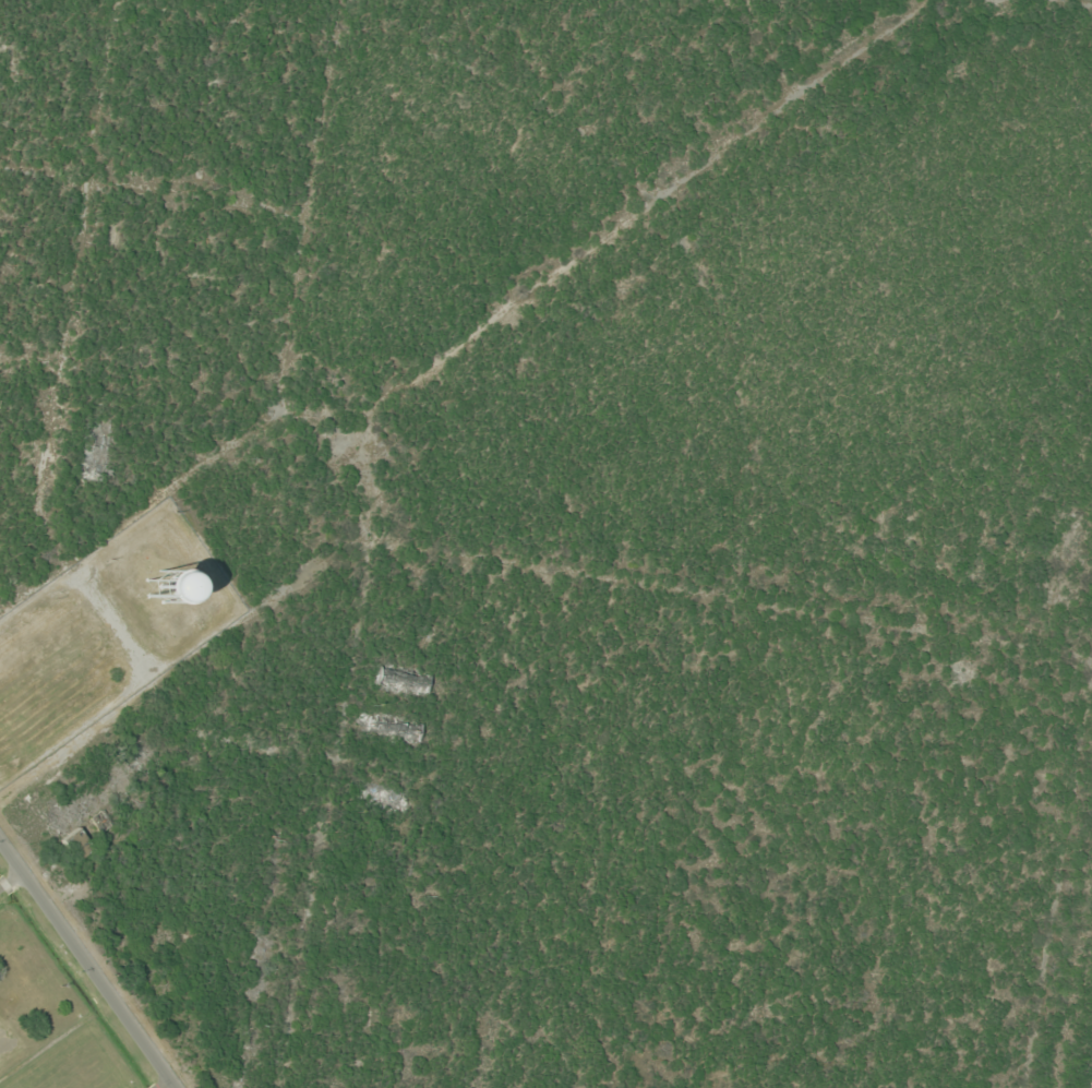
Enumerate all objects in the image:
road: (1078, 2)
road: (718, 70)
road: (575, 145)
road: (658, 275)
road: (480, 291)
road: (286, 381)
road: (46, 464)
road: (728, 601)
road: (203, 653)
building: (407, 680)
road: (334, 809)
building: (76, 846)
road: (1063, 893)
road: (19, 904)
road: (88, 964)
airport: (68, 991)
road: (165, 1084)

